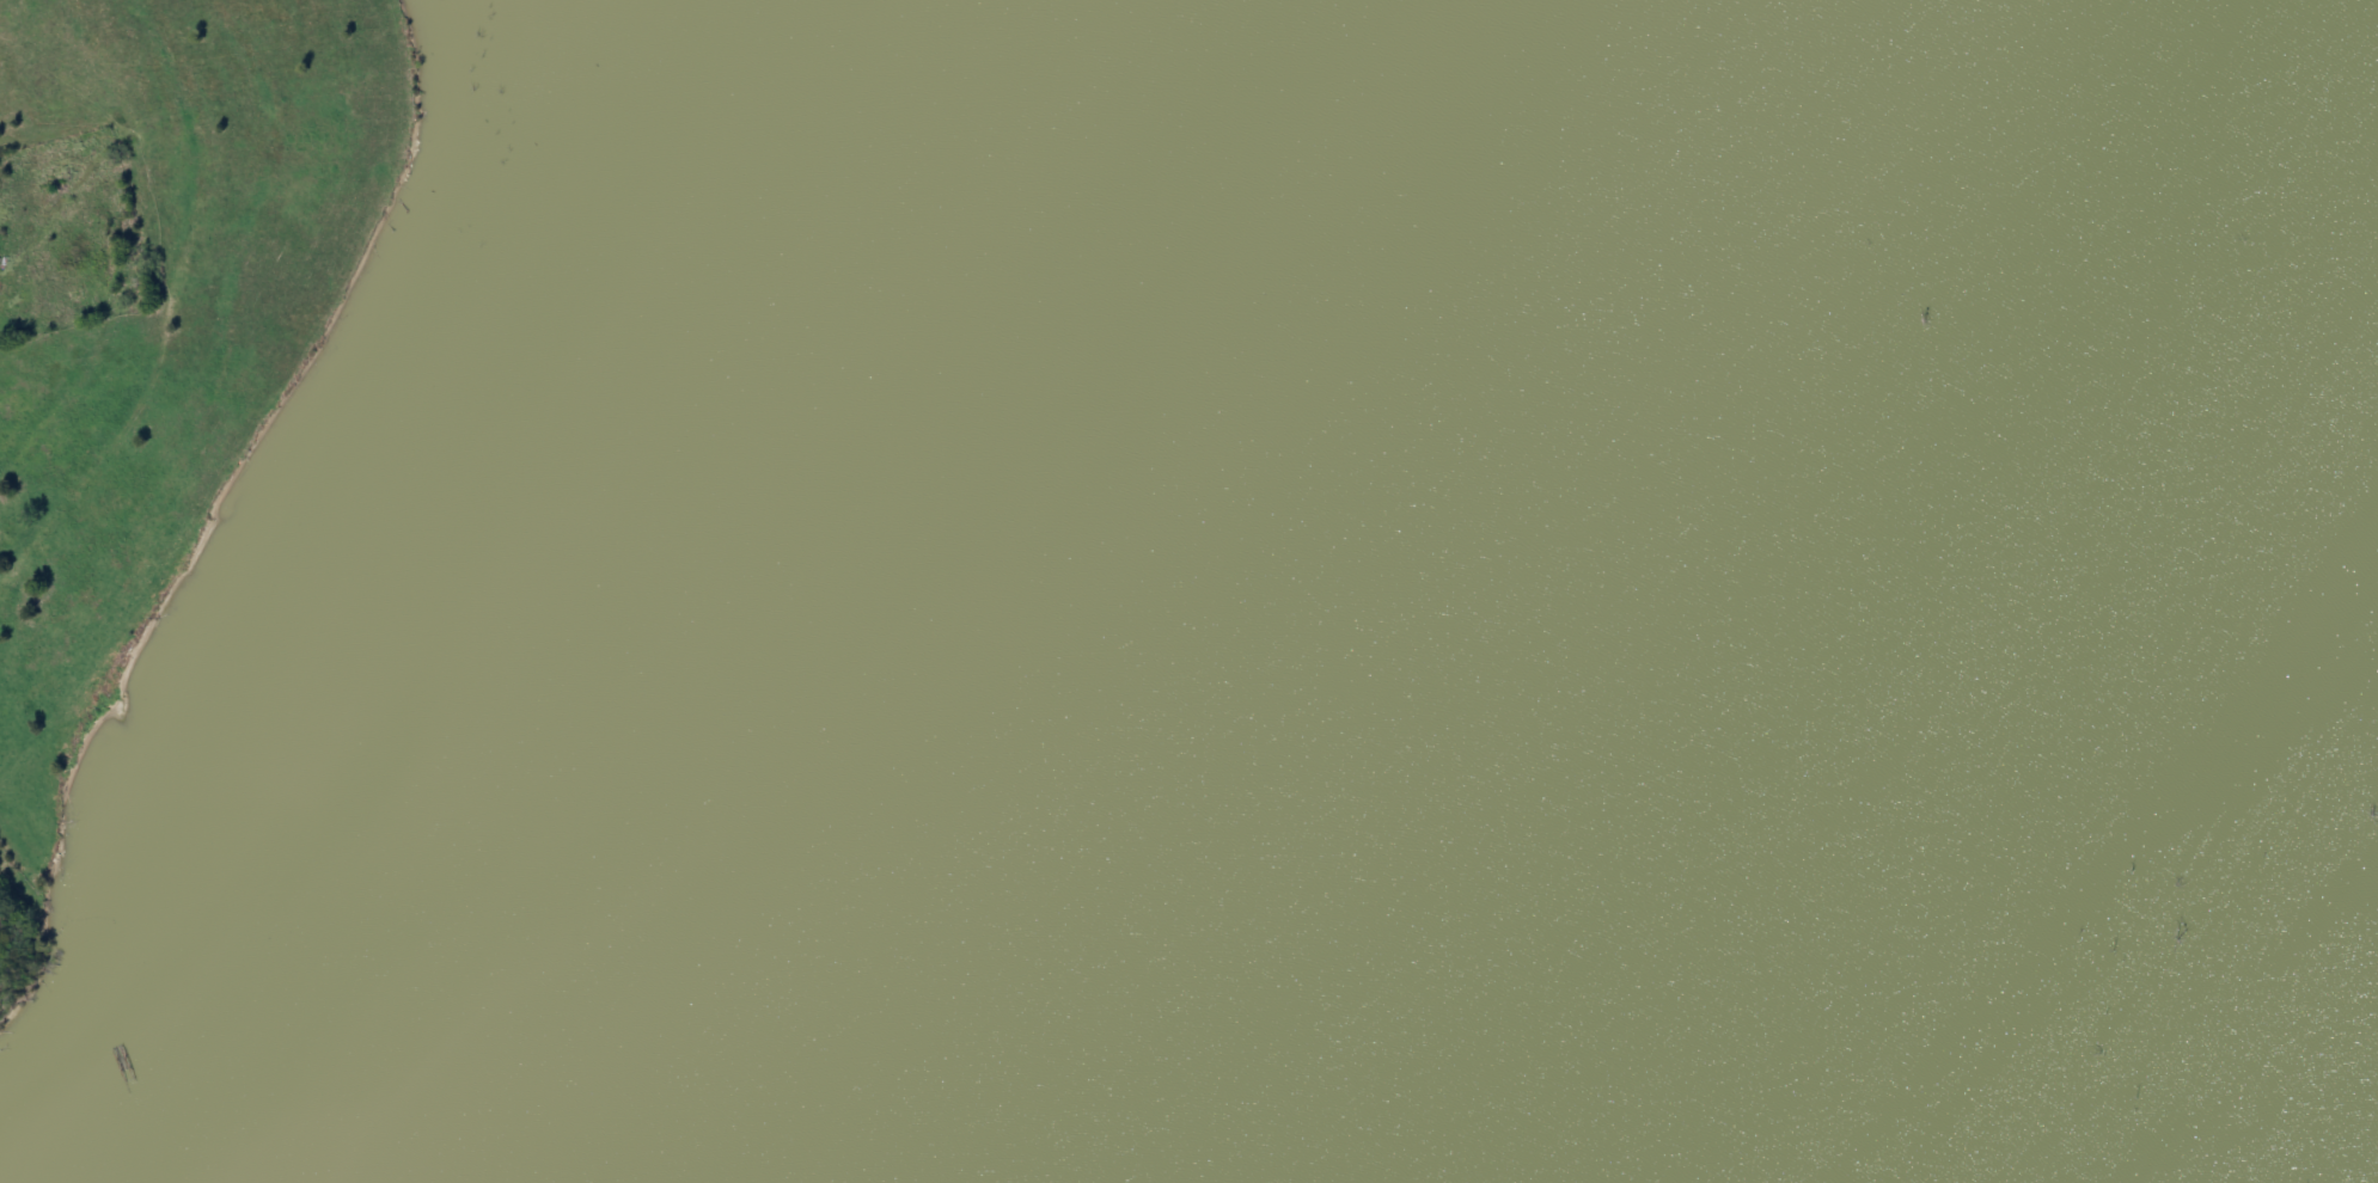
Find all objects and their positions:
road: (35, 911)

